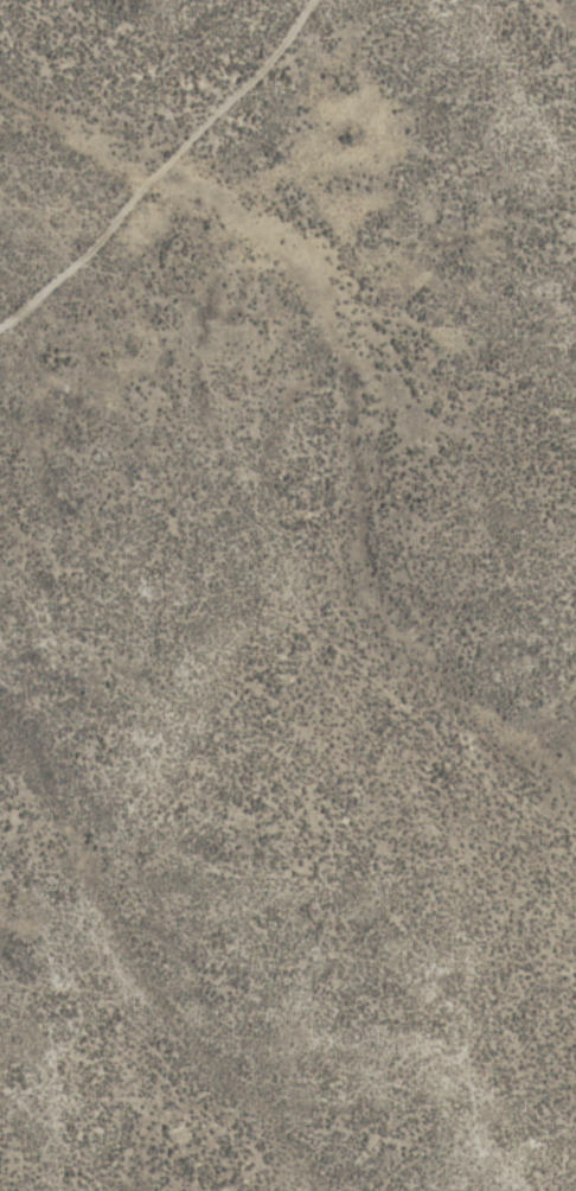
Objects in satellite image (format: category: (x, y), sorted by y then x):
road: (165, 172)

